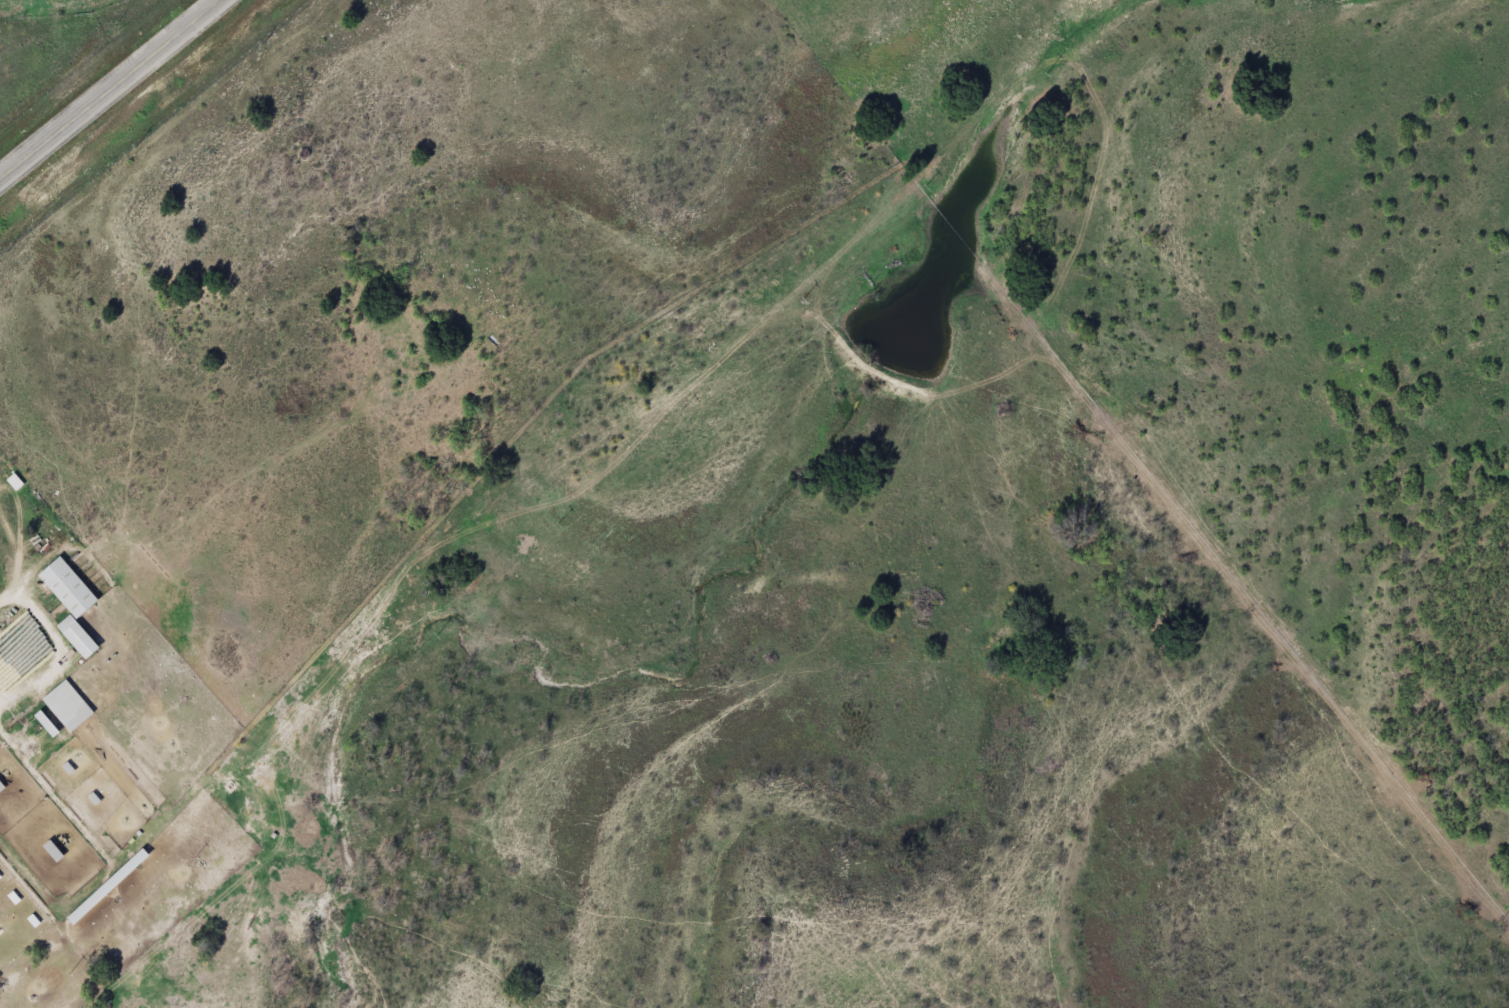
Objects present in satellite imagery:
road: (109, 87)
building: (69, 587)
road: (10, 605)
building: (79, 636)
building: (69, 705)
road: (155, 769)
building: (55, 850)
building: (110, 887)
road: (31, 980)

